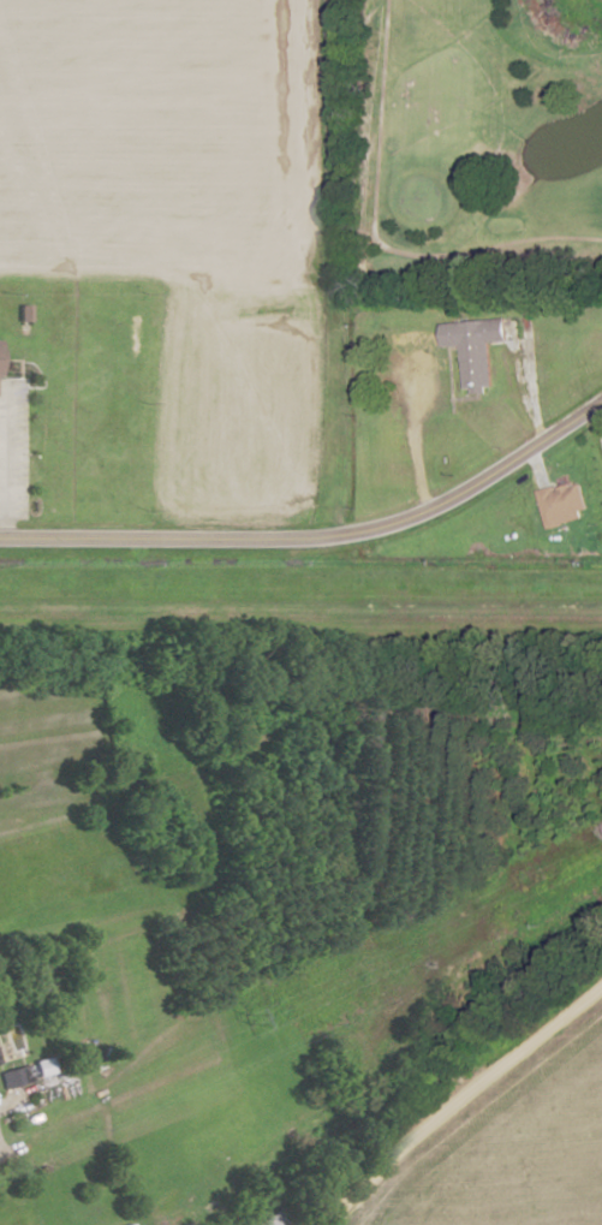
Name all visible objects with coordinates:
park: (473, 144)
crop: (197, 226)
road: (366, 240)
building: (23, 313)
building: (410, 314)
building: (528, 321)
road: (431, 327)
building: (473, 349)
road: (451, 374)
parking lot: (415, 385)
road: (536, 392)
road: (467, 397)
road: (416, 436)
parking lot: (13, 450)
road: (2, 462)
road: (317, 535)
building: (8, 779)
road: (0, 821)
building: (36, 980)
road: (459, 1110)
road: (294, 1135)
road: (7, 1149)
building: (268, 1219)
building: (129, 1224)

